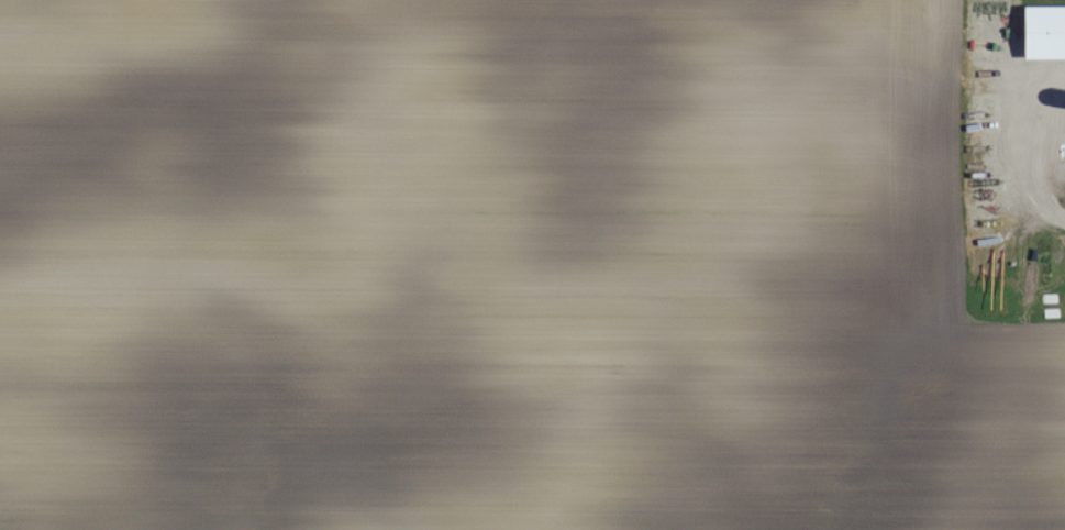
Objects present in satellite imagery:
building: (1041, 34)

